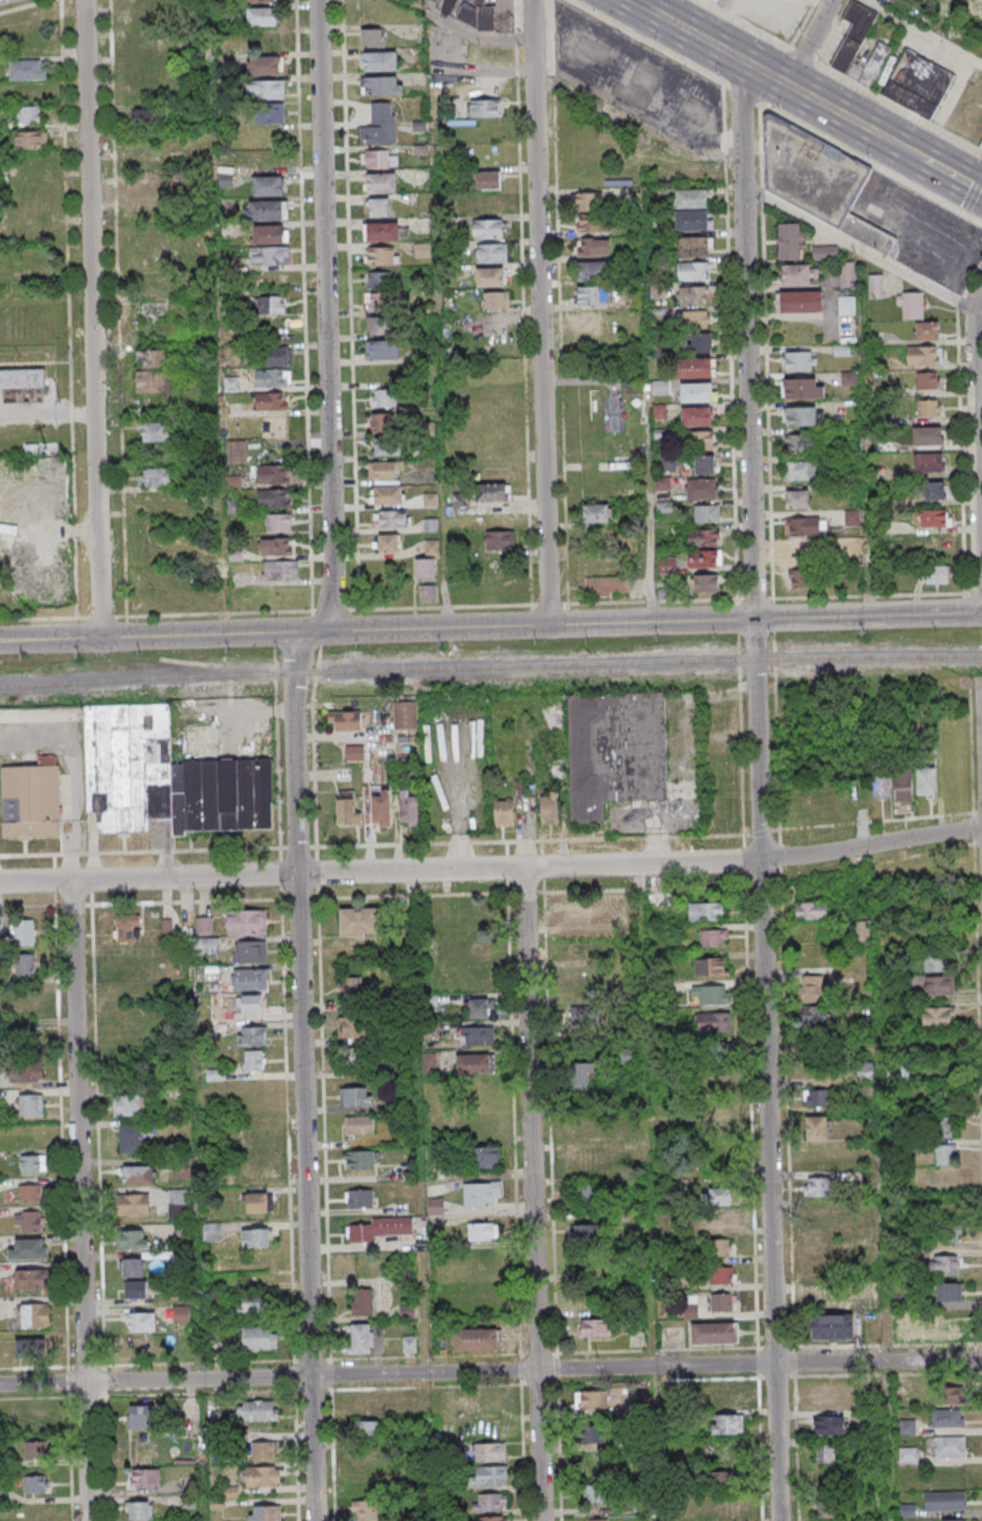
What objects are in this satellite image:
building: (260, 0)
road: (26, 6)
building: (980, 8)
road: (664, 9)
building: (262, 16)
building: (476, 16)
building: (144, 21)
building: (980, 31)
road: (921, 33)
building: (370, 37)
road: (647, 42)
road: (808, 42)
building: (145, 44)
building: (859, 47)
building: (379, 61)
building: (266, 64)
building: (27, 69)
road: (763, 72)
road: (839, 76)
building: (918, 84)
building: (382, 86)
building: (266, 89)
road: (744, 94)
building: (485, 108)
building: (270, 113)
building: (27, 116)
building: (145, 120)
building: (380, 124)
building: (29, 141)
building: (981, 147)
road: (908, 152)
building: (379, 158)
road: (871, 165)
road: (951, 175)
road: (320, 180)
building: (488, 180)
building: (819, 181)
building: (380, 182)
building: (268, 186)
building: (143, 190)
building: (693, 198)
road: (973, 198)
building: (589, 202)
building: (378, 206)
building: (267, 210)
building: (694, 220)
building: (592, 223)
building: (488, 228)
building: (385, 231)
building: (789, 240)
building: (271, 245)
building: (694, 246)
building: (593, 247)
road: (863, 250)
building: (492, 252)
building: (824, 252)
building: (382, 256)
building: (592, 271)
building: (692, 271)
building: (798, 274)
building: (847, 274)
building: (489, 277)
building: (379, 280)
building: (876, 286)
building: (592, 295)
building: (694, 295)
building: (495, 300)
building: (800, 301)
building: (379, 302)
building: (268, 304)
road: (350, 304)
building: (846, 304)
building: (911, 305)
building: (150, 311)
road: (540, 312)
building: (695, 317)
road: (92, 318)
building: (380, 326)
building: (927, 330)
building: (699, 342)
building: (382, 349)
building: (275, 355)
building: (923, 356)
building: (800, 361)
building: (697, 367)
building: (151, 370)
building: (272, 377)
building: (847, 378)
building: (927, 380)
building: (23, 381)
building: (231, 384)
building: (801, 388)
building: (698, 392)
building: (383, 398)
building: (269, 401)
building: (928, 408)
building: (696, 416)
building: (801, 416)
building: (382, 422)
building: (155, 432)
building: (927, 435)
building: (701, 440)
building: (801, 442)
building: (388, 447)
road: (977, 453)
building: (928, 463)
building: (705, 465)
building: (801, 471)
building: (272, 473)
building: (154, 477)
building: (385, 482)
building: (702, 488)
building: (934, 490)
building: (491, 492)
road: (326, 496)
building: (273, 498)
building: (797, 498)
building: (430, 500)
building: (597, 513)
building: (706, 513)
building: (851, 517)
building: (390, 518)
building: (935, 518)
building: (278, 522)
building: (430, 525)
building: (805, 526)
building: (703, 537)
building: (499, 540)
building: (388, 542)
building: (274, 545)
building: (432, 547)
building: (801, 553)
building: (704, 558)
building: (667, 565)
building: (425, 568)
building: (280, 570)
building: (937, 574)
building: (801, 578)
building: (706, 582)
building: (608, 586)
building: (427, 593)
road: (490, 606)
road: (655, 622)
road: (214, 635)
road: (49, 639)
railway: (490, 667)
building: (404, 716)
building: (345, 720)
building: (615, 751)
road: (314, 759)
road: (73, 776)
building: (167, 777)
building: (925, 782)
building: (903, 785)
building: (881, 787)
road: (759, 790)
building: (31, 800)
building: (549, 808)
building: (347, 809)
building: (408, 809)
building: (381, 810)
building: (504, 813)
road: (491, 841)
road: (492, 868)
road: (493, 893)
building: (661, 900)
building: (705, 911)
building: (811, 912)
building: (576, 915)
building: (245, 922)
building: (358, 922)
building: (204, 925)
building: (126, 926)
building: (167, 926)
building: (24, 933)
building: (713, 937)
building: (206, 945)
building: (249, 951)
building: (474, 952)
building: (938, 963)
building: (712, 966)
building: (25, 967)
building: (250, 979)
building: (937, 986)
building: (813, 989)
building: (351, 990)
building: (710, 994)
building: (587, 998)
building: (249, 1004)
building: (25, 1005)
building: (476, 1007)
building: (937, 1017)
building: (815, 1018)
building: (713, 1021)
building: (351, 1027)
building: (478, 1035)
building: (250, 1039)
building: (723, 1051)
building: (352, 1057)
building: (254, 1060)
building: (430, 1062)
building: (474, 1064)
building: (24, 1072)
building: (866, 1072)
road: (302, 1077)
building: (584, 1077)
building: (355, 1096)
building: (817, 1097)
building: (31, 1106)
building: (127, 1106)
building: (359, 1125)
building: (817, 1128)
building: (945, 1128)
building: (130, 1138)
building: (945, 1156)
building: (485, 1157)
building: (362, 1159)
building: (589, 1159)
building: (32, 1165)
building: (258, 1167)
building: (137, 1174)
road: (515, 1181)
building: (817, 1187)
building: (586, 1192)
building: (30, 1193)
building: (480, 1193)
road: (532, 1194)
building: (720, 1196)
building: (359, 1198)
road: (80, 1200)
building: (256, 1202)
building: (133, 1204)
building: (436, 1206)
building: (179, 1212)
building: (28, 1221)
building: (722, 1221)
building: (379, 1229)
building: (482, 1231)
building: (947, 1232)
building: (212, 1233)
building: (585, 1233)
building: (255, 1237)
building: (131, 1240)
building: (721, 1247)
building: (29, 1249)
building: (179, 1257)
building: (946, 1265)
building: (133, 1268)
building: (722, 1275)
building: (31, 1281)
building: (135, 1290)
building: (947, 1292)
building: (825, 1300)
building: (362, 1302)
building: (723, 1302)
building: (254, 1303)
building: (181, 1315)
building: (36, 1316)
building: (141, 1322)
building: (830, 1327)
building: (595, 1328)
building: (714, 1332)
building: (360, 1338)
building: (258, 1339)
building: (475, 1339)
building: (410, 1344)
building: (32, 1347)
building: (139, 1347)
road: (490, 1370)
building: (829, 1394)
building: (724, 1396)
building: (591, 1400)
building: (368, 1404)
building: (257, 1410)
building: (138, 1416)
building: (946, 1417)
building: (726, 1424)
building: (828, 1425)
building: (906, 1426)
building: (368, 1430)
building: (597, 1436)
building: (948, 1447)
building: (141, 1448)
building: (36, 1449)
building: (264, 1449)
building: (490, 1452)
building: (824, 1454)
building: (907, 1454)
building: (363, 1457)
building: (261, 1476)
building: (490, 1477)
building: (144, 1478)
building: (724, 1480)
building: (36, 1484)
building: (594, 1493)
building: (945, 1501)
building: (492, 1502)
building: (727, 1507)
building: (827, 1508)
building: (138, 1510)
building: (367, 1510)
building: (907, 1510)
building: (264, 1513)
building: (493, 1518)
building: (595, 1519)
building: (955, 1520)

